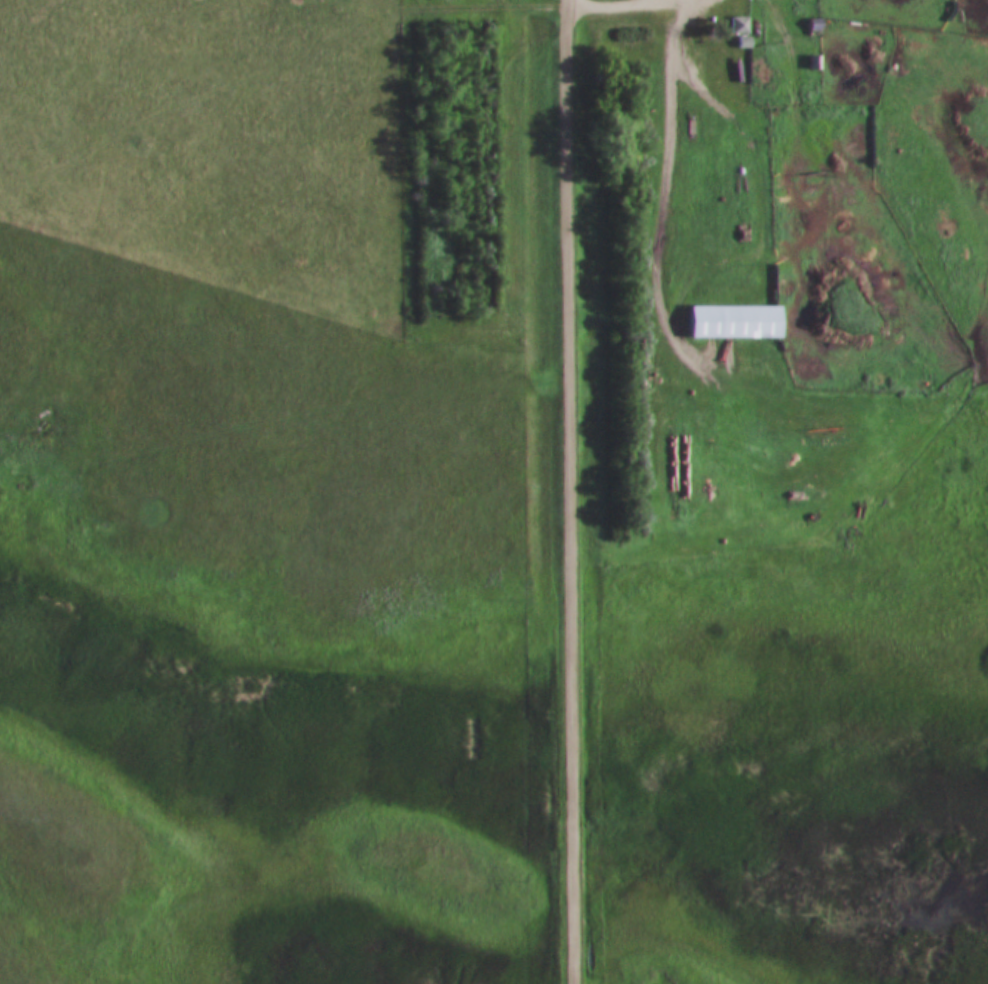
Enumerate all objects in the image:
road: (606, 6)
building: (736, 25)
building: (741, 43)
road: (661, 286)
building: (730, 322)
road: (569, 491)

